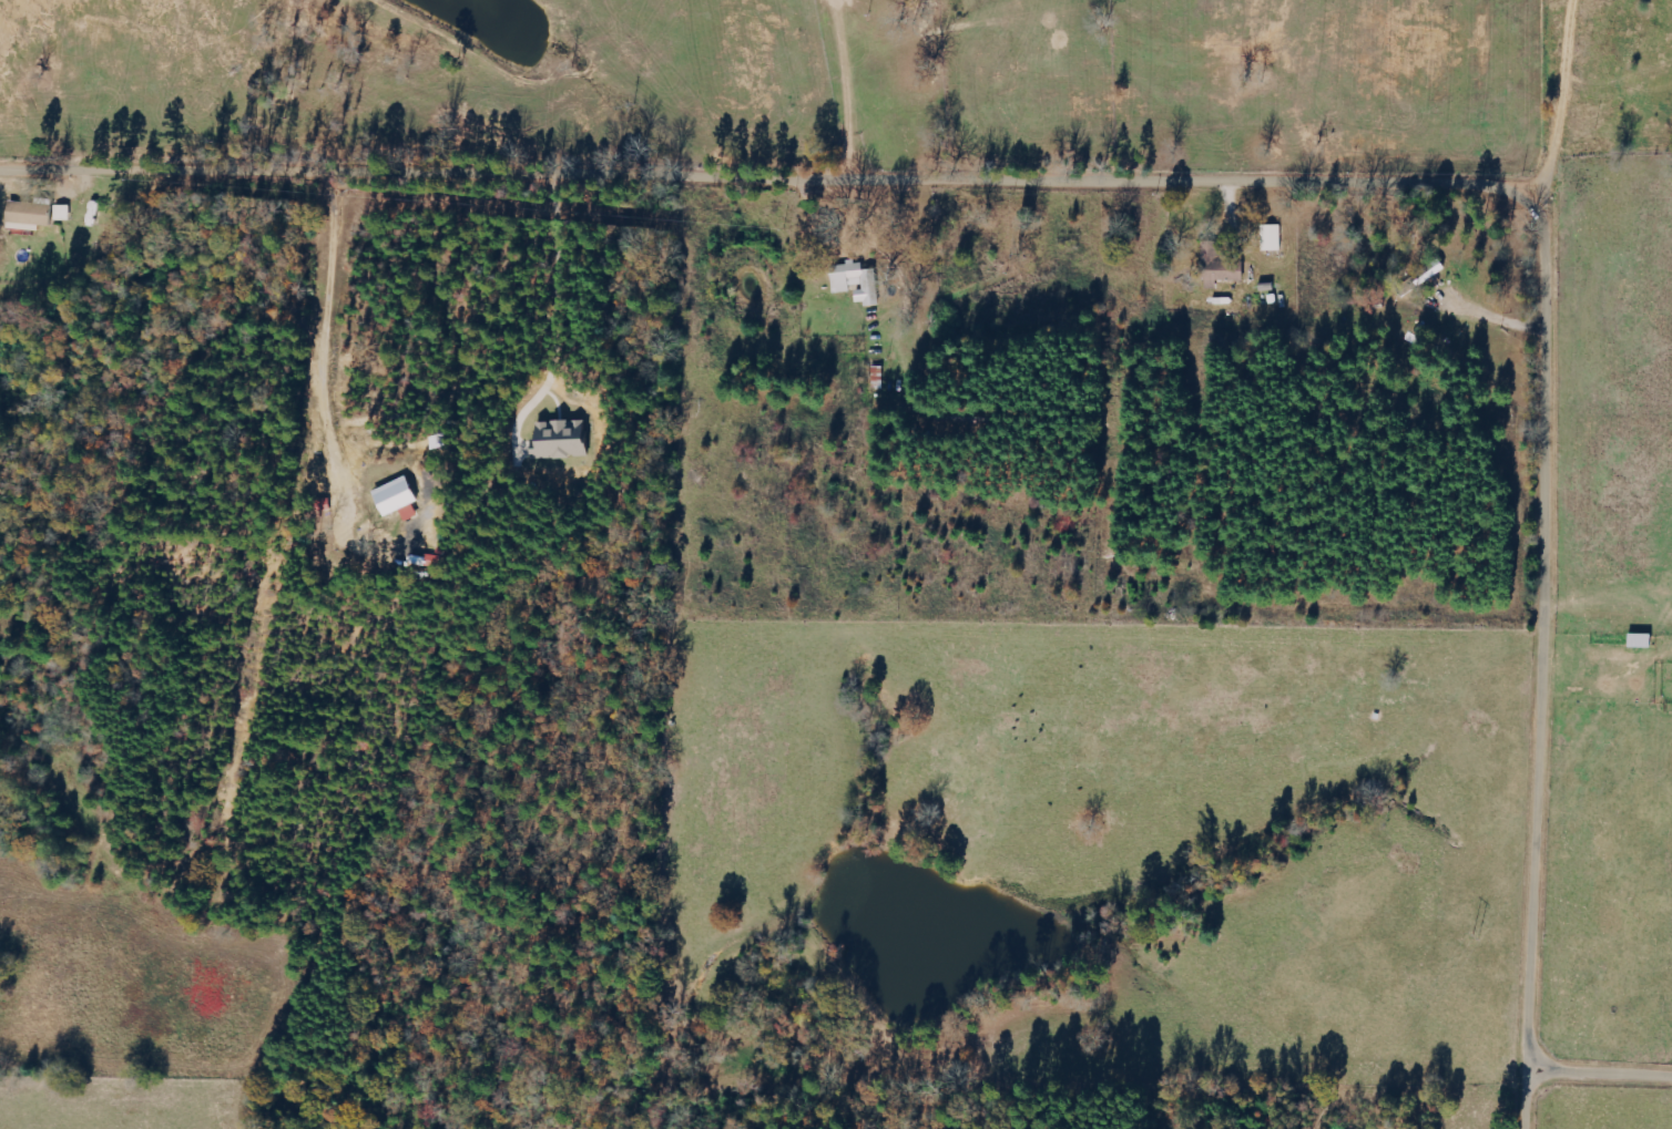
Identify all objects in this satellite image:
road: (842, 91)
road: (940, 91)
road: (1558, 103)
road: (1237, 184)
building: (64, 213)
building: (32, 216)
building: (1274, 237)
building: (1214, 255)
building: (859, 281)
road: (551, 317)
road: (322, 320)
building: (565, 440)
building: (401, 499)
power tower: (1478, 940)
road: (1605, 1076)

